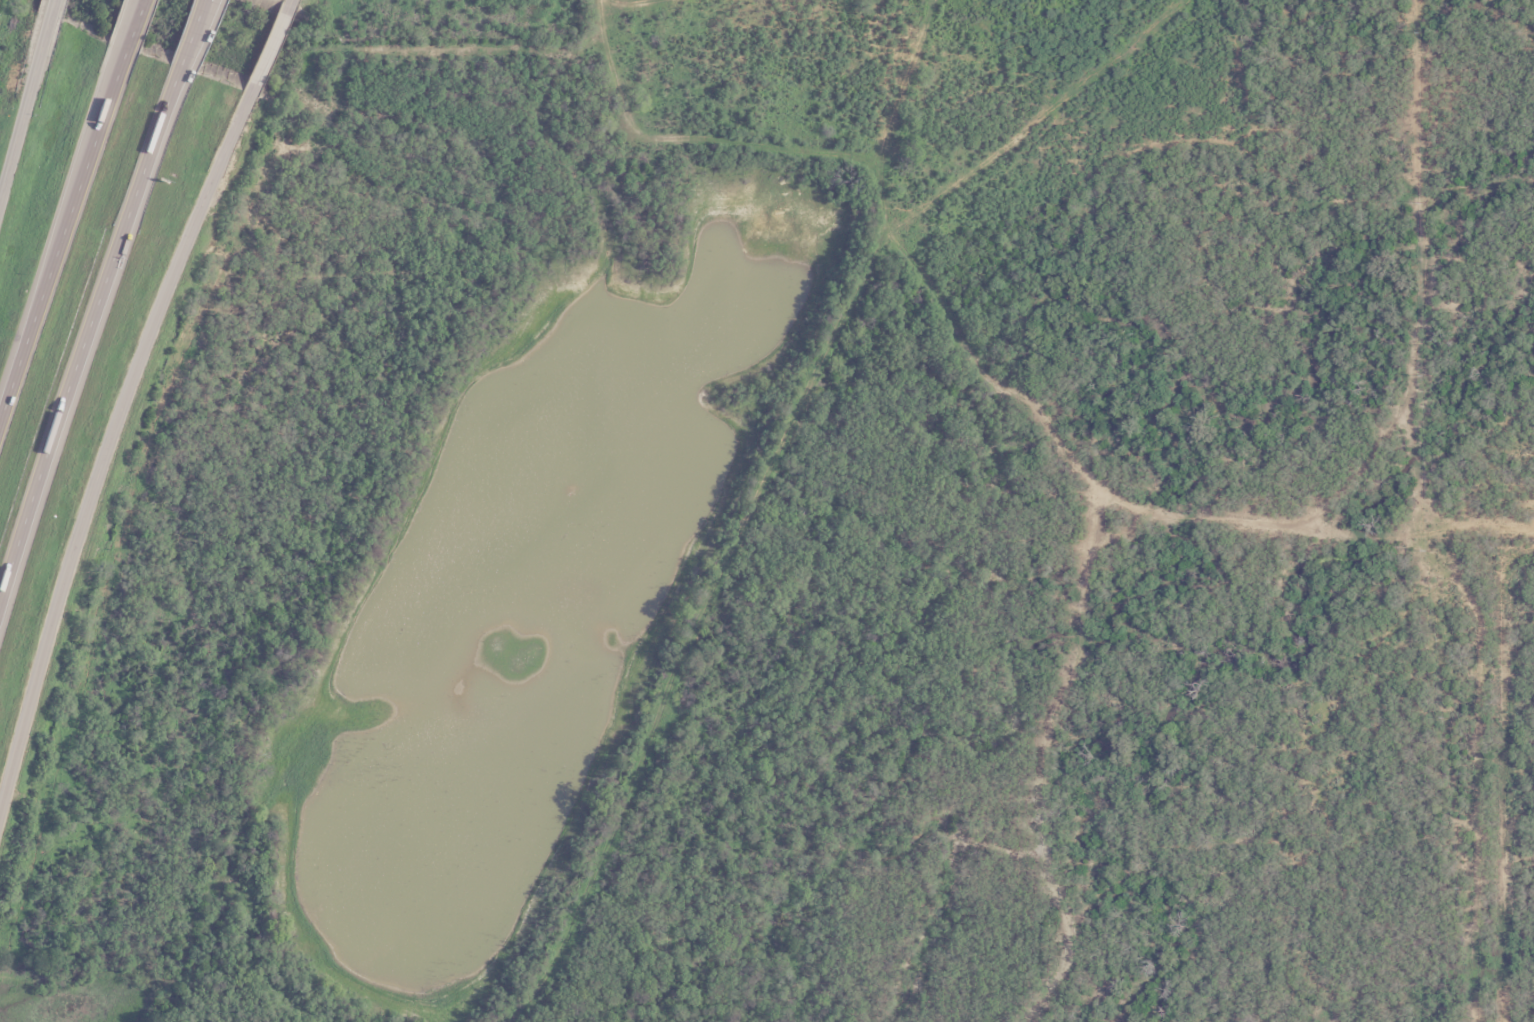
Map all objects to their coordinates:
road: (288, 0)
road: (626, 3)
road: (50, 8)
road: (124, 24)
road: (133, 25)
road: (190, 33)
road: (197, 33)
road: (268, 47)
road: (24, 106)
road: (86, 149)
road: (61, 233)
road: (86, 331)
road: (106, 445)

